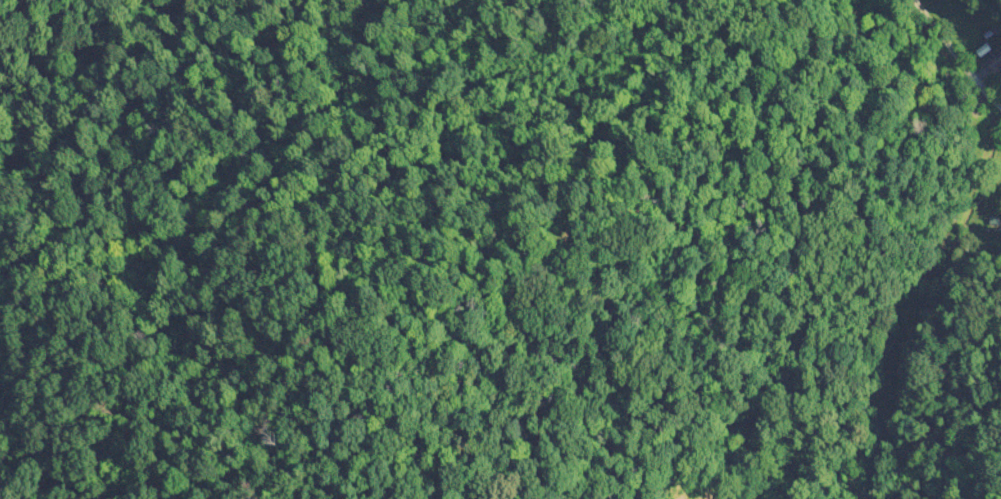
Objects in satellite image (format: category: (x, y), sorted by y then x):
road: (951, 59)
building: (994, 62)

